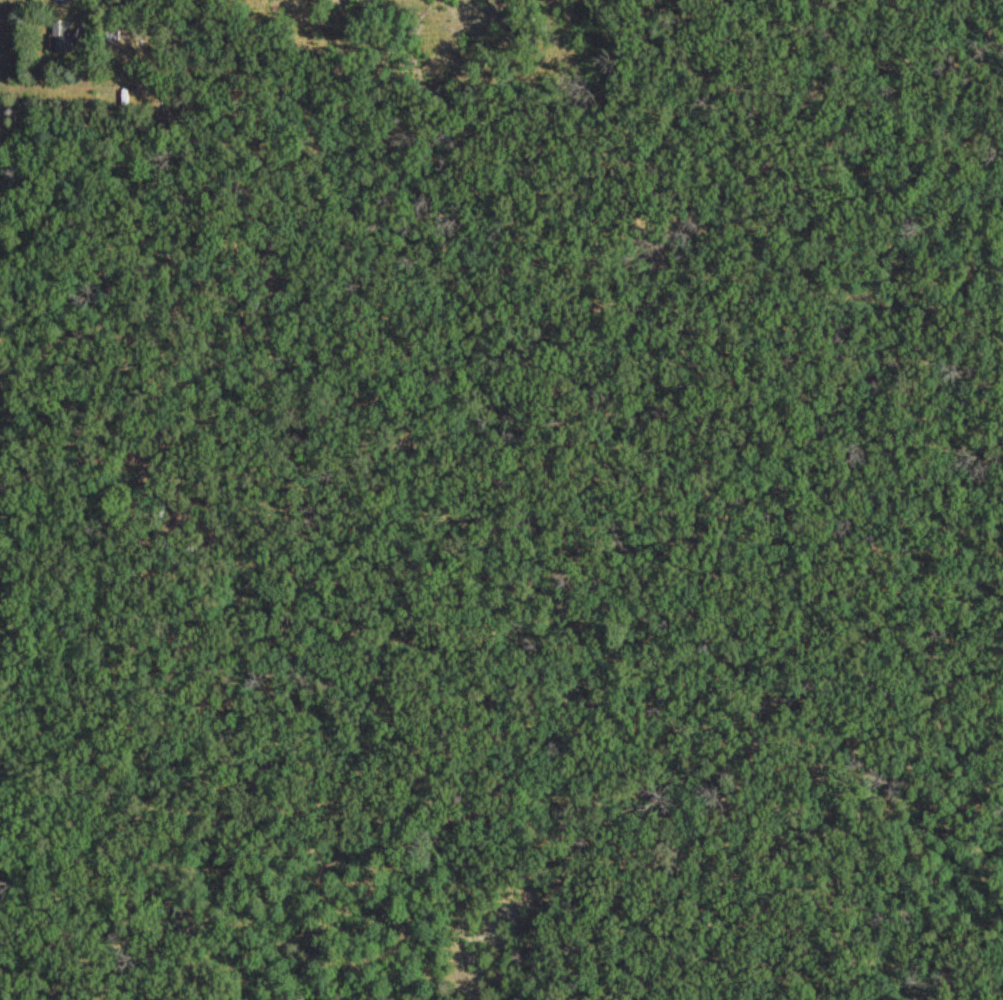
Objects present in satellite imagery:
building: (112, 32)

